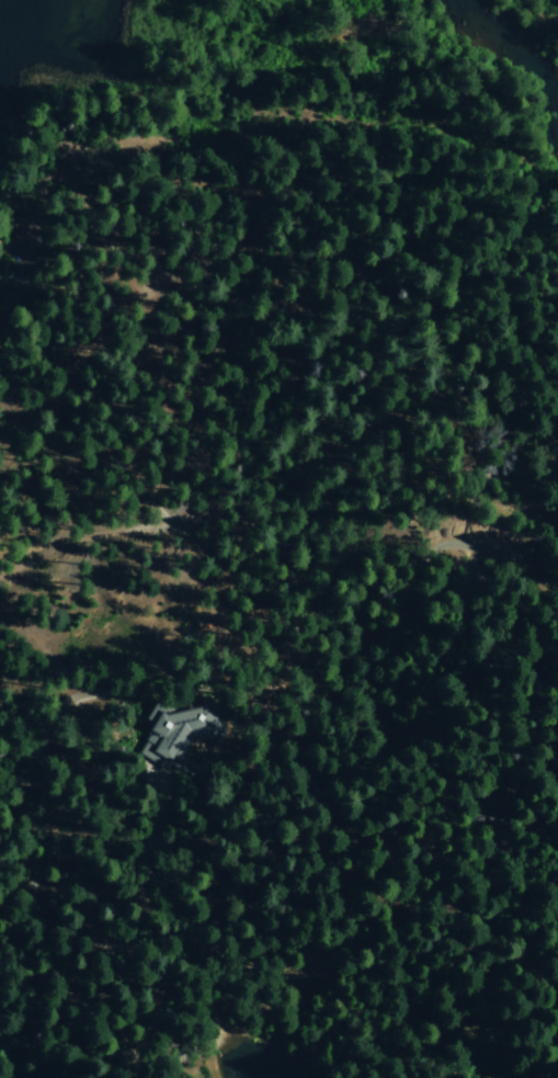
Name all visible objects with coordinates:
building: (180, 736)

